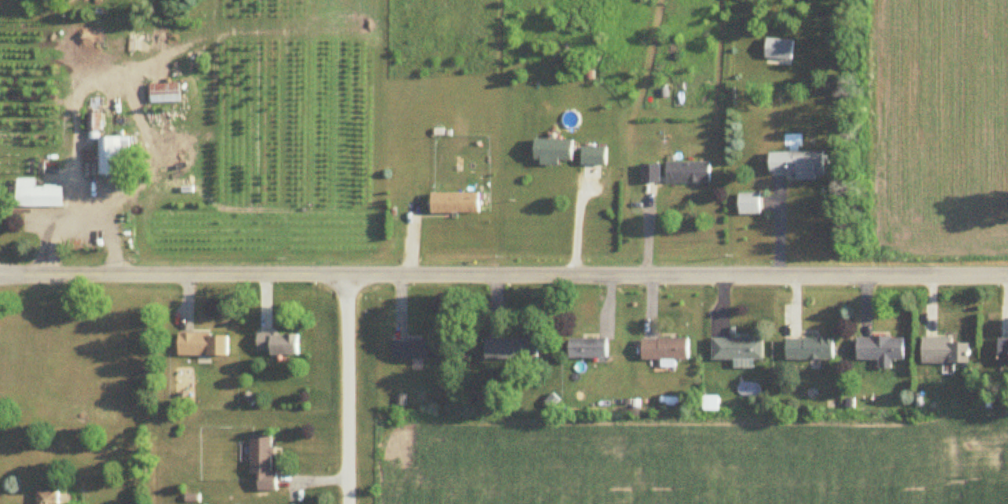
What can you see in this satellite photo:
building: (779, 49)
building: (165, 93)
building: (109, 149)
building: (555, 151)
building: (594, 156)
building: (798, 165)
road: (75, 167)
building: (688, 172)
building: (651, 173)
building: (39, 195)
building: (456, 202)
road: (48, 240)
road: (503, 274)
building: (205, 345)
building: (279, 345)
building: (589, 348)
building: (512, 349)
building: (666, 349)
building: (416, 350)
building: (739, 350)
building: (812, 350)
building: (882, 350)
building: (947, 352)
building: (1004, 354)
road: (347, 389)
building: (264, 463)
building: (49, 497)

